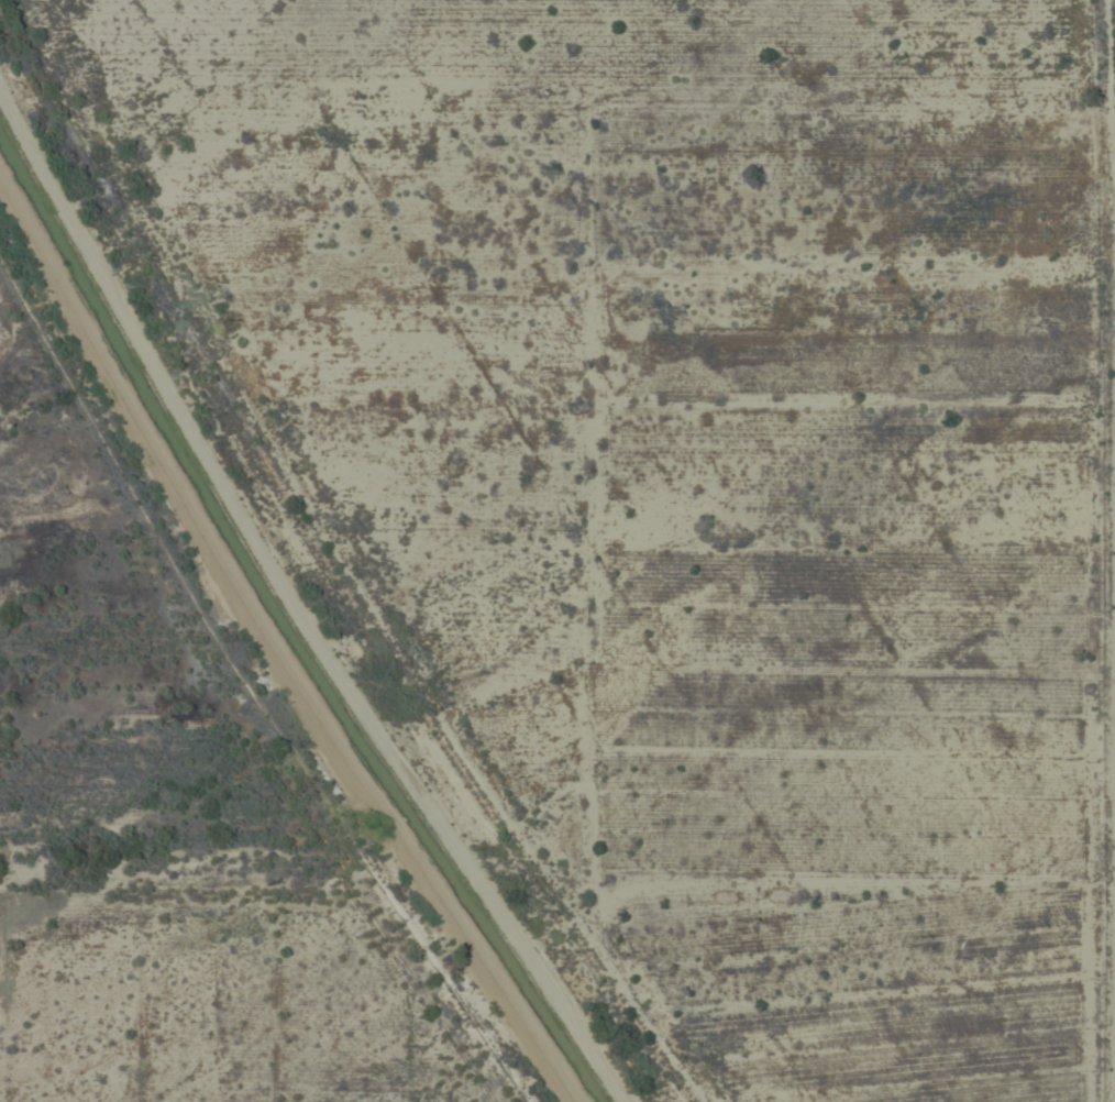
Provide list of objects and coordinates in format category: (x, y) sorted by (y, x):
road: (305, 573)

